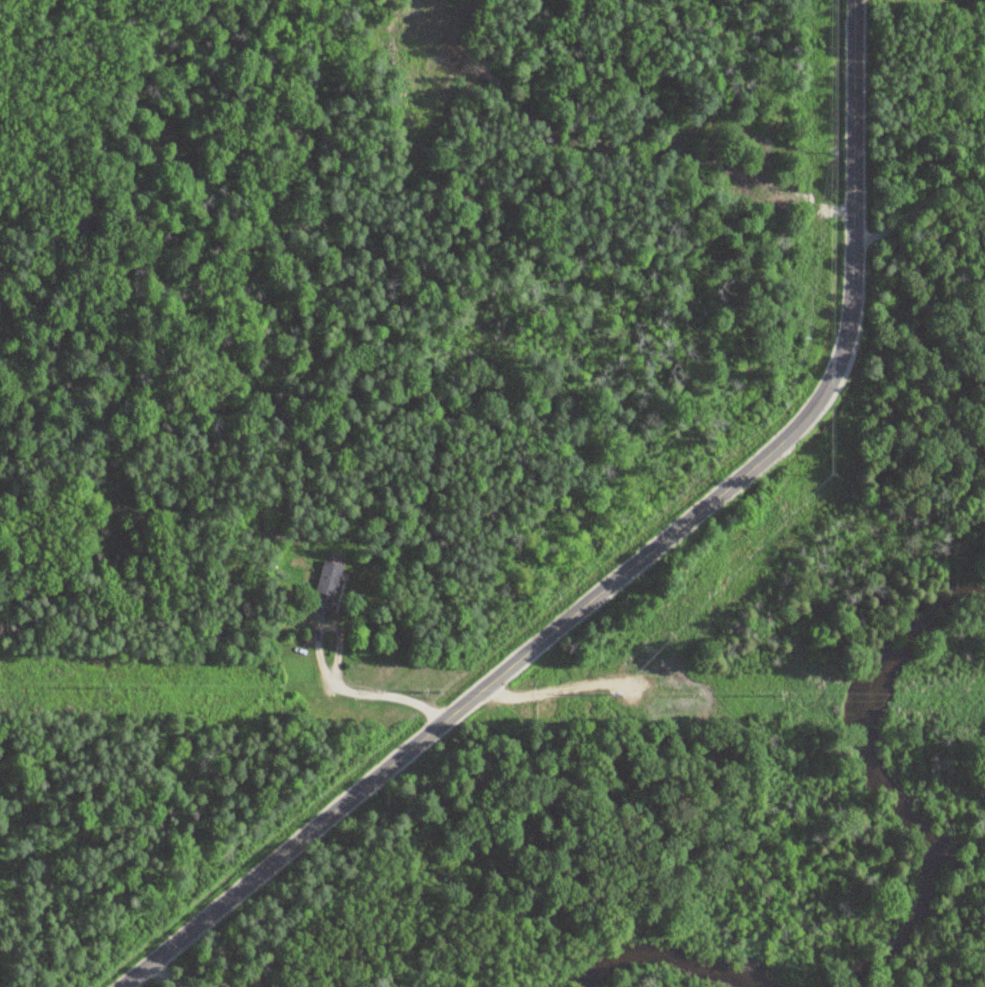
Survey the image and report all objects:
road: (949, 161)
road: (961, 197)
park: (920, 206)
road: (898, 224)
road: (629, 564)
building: (329, 578)
road: (322, 679)
river: (874, 779)
river: (666, 955)

